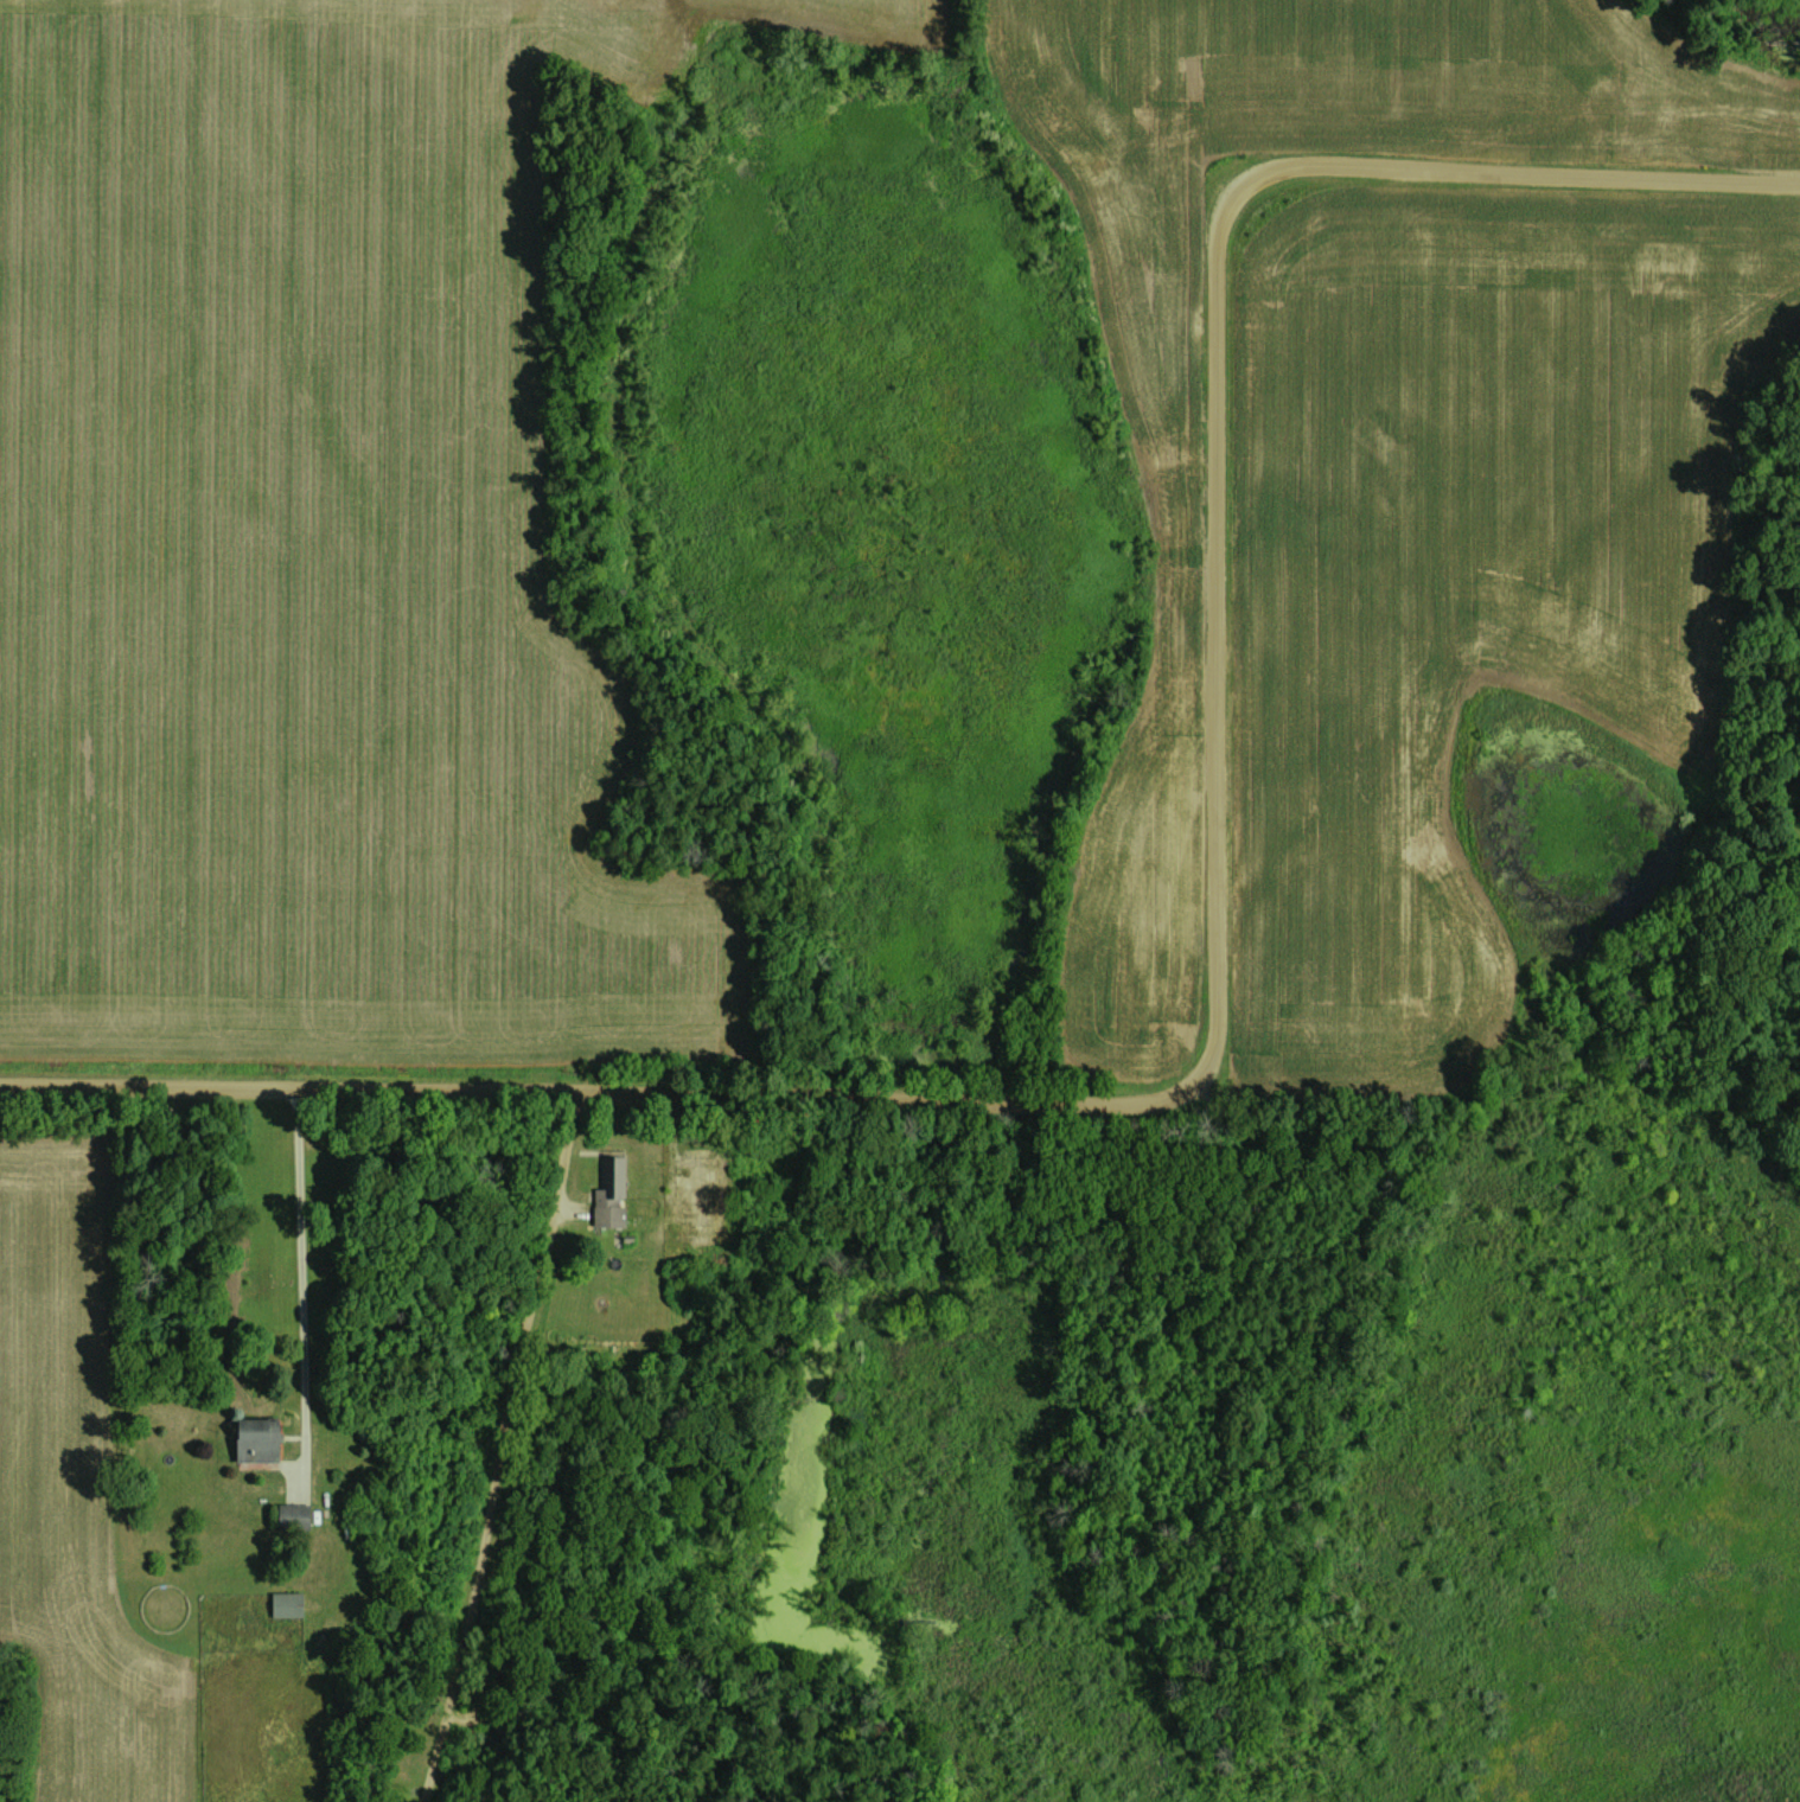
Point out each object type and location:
road: (1215, 948)
building: (608, 1189)
building: (703, 1199)
road: (300, 1277)
building: (254, 1439)
road: (494, 1446)
building: (292, 1515)
building: (285, 1604)

